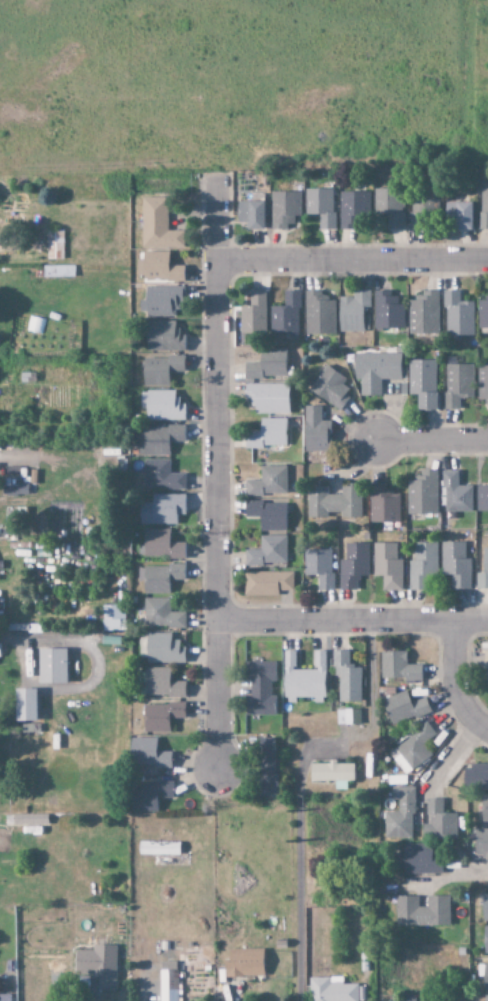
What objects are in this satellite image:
building: (320, 207)
building: (389, 207)
building: (424, 207)
building: (284, 209)
building: (352, 209)
building: (483, 210)
building: (250, 215)
building: (459, 215)
building: (157, 225)
road: (353, 261)
building: (159, 268)
building: (158, 302)
building: (352, 311)
building: (386, 311)
building: (253, 313)
building: (318, 313)
building: (423, 313)
building: (456, 314)
building: (482, 314)
building: (285, 315)
building: (162, 336)
building: (267, 366)
building: (160, 370)
building: (375, 371)
building: (422, 383)
building: (456, 384)
building: (482, 384)
building: (329, 387)
building: (267, 398)
building: (161, 405)
building: (314, 430)
building: (267, 434)
building: (157, 439)
road: (433, 441)
building: (160, 475)
road: (219, 476)
building: (267, 482)
building: (422, 493)
building: (454, 493)
building: (481, 498)
building: (333, 502)
building: (382, 505)
building: (161, 510)
building: (266, 515)
building: (160, 545)
building: (267, 552)
building: (455, 564)
building: (353, 565)
building: (422, 565)
building: (318, 566)
building: (387, 566)
building: (482, 571)
building: (159, 578)
building: (266, 583)
building: (160, 614)
building: (113, 618)
road: (353, 620)
building: (162, 649)
building: (51, 666)
building: (397, 667)
building: (346, 678)
building: (303, 679)
road: (456, 679)
building: (160, 684)
building: (259, 689)
building: (24, 705)
building: (403, 708)
building: (160, 716)
building: (347, 717)
building: (411, 750)
building: (148, 754)
building: (266, 768)
building: (332, 774)
building: (478, 776)
building: (148, 795)
building: (484, 809)
building: (399, 815)
building: (439, 820)
building: (480, 843)
building: (158, 848)
building: (420, 859)
road: (471, 875)
building: (484, 907)
building: (421, 912)
building: (485, 940)
building: (243, 963)
building: (97, 965)
building: (485, 976)
building: (168, 981)
building: (331, 990)
building: (485, 998)
building: (408, 999)

